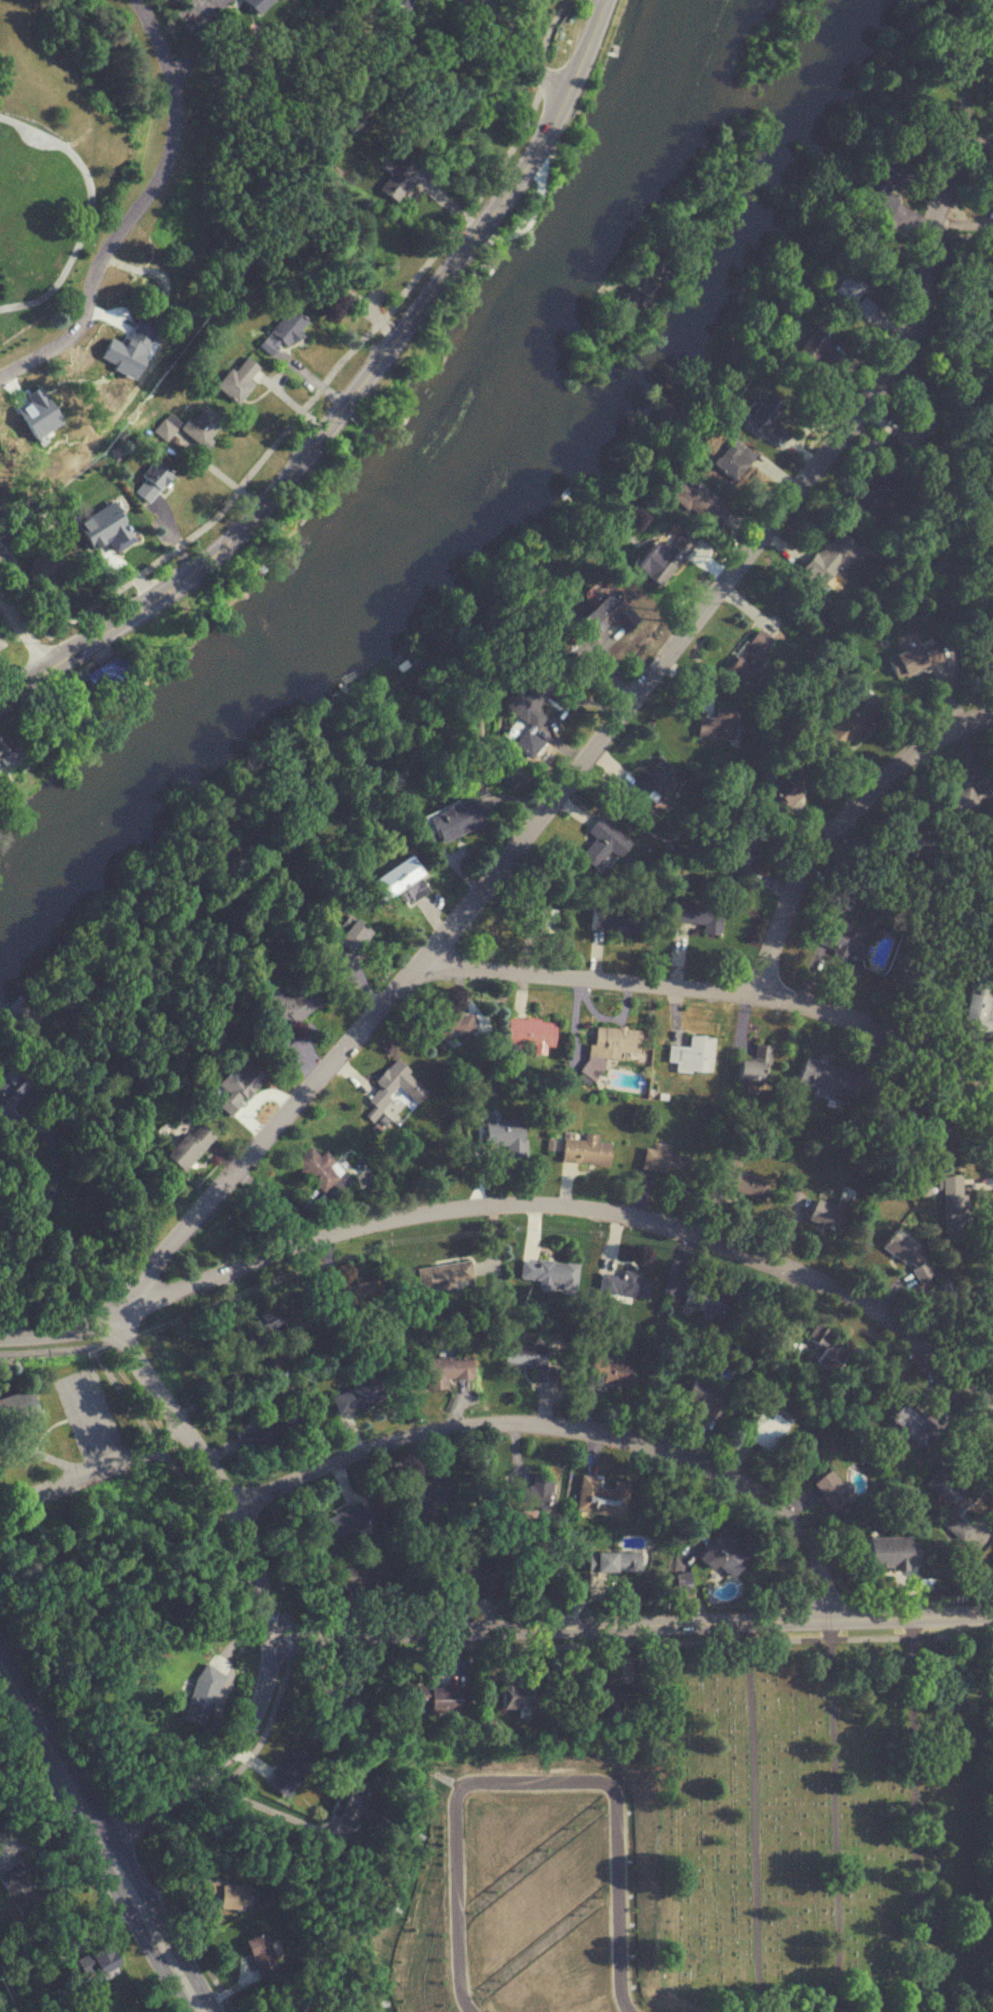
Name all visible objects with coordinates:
building: (253, 5)
building: (392, 16)
road: (199, 40)
building: (958, 46)
road: (525, 54)
building: (397, 181)
building: (883, 187)
road: (141, 209)
building: (844, 290)
building: (863, 308)
building: (280, 333)
building: (812, 344)
road: (350, 349)
building: (119, 357)
building: (236, 380)
road: (353, 395)
building: (765, 421)
building: (916, 425)
building: (201, 426)
building: (731, 459)
building: (150, 482)
building: (873, 494)
building: (697, 503)
river: (416, 510)
building: (12, 544)
building: (661, 557)
building: (830, 557)
building: (41, 570)
road: (24, 600)
building: (605, 616)
road: (24, 632)
building: (749, 656)
building: (913, 658)
building: (101, 675)
building: (529, 695)
building: (717, 725)
building: (842, 730)
road: (597, 745)
building: (3, 750)
building: (789, 783)
building: (654, 784)
building: (967, 796)
building: (453, 818)
road: (842, 824)
building: (907, 847)
building: (742, 849)
building: (597, 855)
building: (394, 882)
building: (699, 917)
building: (614, 918)
building: (538, 920)
building: (840, 941)
building: (345, 944)
road: (715, 990)
building: (977, 1012)
building: (451, 1025)
building: (529, 1032)
building: (275, 1035)
building: (609, 1045)
building: (692, 1055)
building: (750, 1071)
building: (823, 1077)
building: (395, 1085)
building: (238, 1086)
building: (10, 1097)
building: (921, 1116)
building: (504, 1135)
building: (186, 1147)
building: (584, 1151)
building: (666, 1163)
building: (317, 1169)
building: (739, 1180)
road: (515, 1204)
building: (952, 1208)
road: (41, 1209)
building: (824, 1215)
building: (897, 1246)
building: (548, 1272)
building: (444, 1276)
building: (626, 1284)
building: (353, 1295)
building: (706, 1301)
road: (46, 1351)
building: (820, 1351)
building: (521, 1356)
building: (444, 1372)
building: (607, 1376)
building: (357, 1398)
building: (705, 1398)
building: (17, 1412)
road: (573, 1426)
building: (764, 1432)
building: (258, 1436)
building: (829, 1490)
building: (427, 1492)
building: (533, 1495)
building: (603, 1498)
building: (952, 1504)
building: (345, 1520)
building: (889, 1553)
building: (721, 1556)
building: (992, 1556)
building: (613, 1562)
building: (365, 1578)
building: (477, 1578)
building: (411, 1579)
road: (264, 1595)
road: (633, 1629)
road: (436, 1650)
building: (517, 1696)
building: (197, 1698)
building: (437, 1698)
building: (610, 1699)
building: (289, 1772)
road: (254, 1802)
building: (356, 1809)
road: (918, 1816)
road: (836, 1818)
road: (753, 1819)
building: (2, 1825)
park: (822, 1825)
road: (171, 1827)
road: (102, 1838)
building: (24, 1889)
building: (224, 1896)
building: (260, 1957)
building: (108, 1960)
building: (315, 2009)

